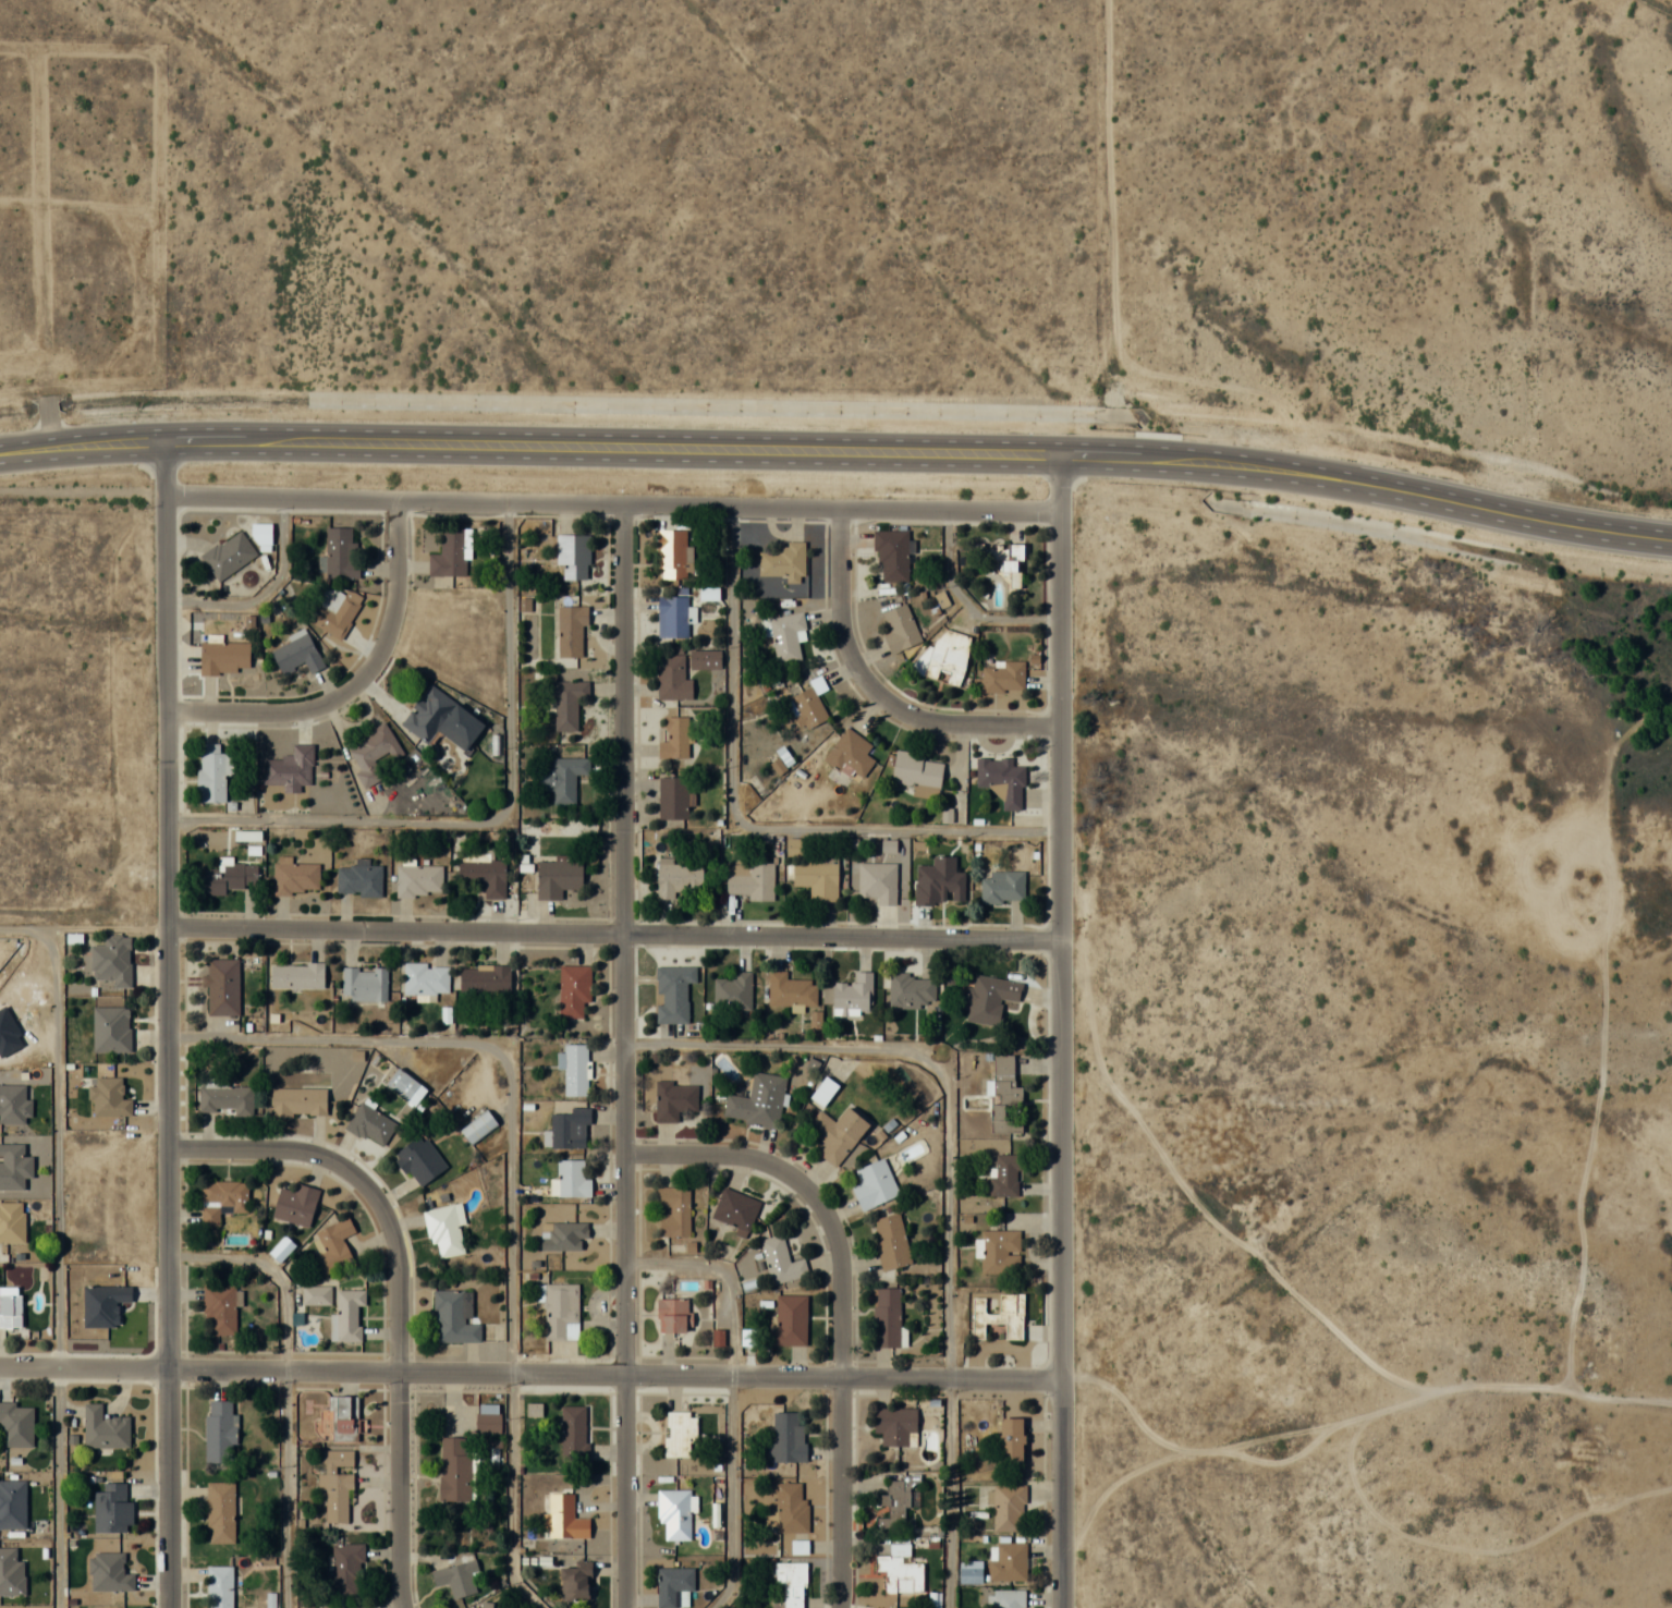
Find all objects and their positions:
road: (1107, 166)
road: (37, 412)
road: (39, 437)
road: (530, 441)
road: (1369, 477)
road: (614, 503)
building: (261, 536)
building: (451, 553)
building: (228, 555)
building: (340, 555)
building: (673, 555)
building: (891, 556)
building: (572, 557)
building: (782, 561)
building: (1003, 564)
road: (263, 593)
road: (968, 602)
building: (749, 609)
building: (333, 610)
building: (672, 617)
building: (900, 629)
building: (571, 630)
building: (784, 636)
building: (296, 654)
building: (945, 656)
building: (223, 657)
building: (704, 659)
building: (1003, 677)
building: (672, 678)
road: (355, 684)
road: (876, 691)
building: (566, 703)
building: (808, 705)
building: (440, 719)
building: (675, 739)
building: (373, 754)
building: (849, 754)
building: (290, 769)
building: (212, 772)
building: (916, 773)
building: (562, 778)
building: (1001, 780)
building: (673, 797)
road: (492, 819)
road: (742, 823)
building: (484, 875)
building: (229, 877)
building: (558, 877)
building: (817, 877)
building: (295, 878)
building: (679, 879)
building: (358, 880)
building: (418, 880)
building: (749, 880)
building: (1002, 886)
building: (872, 888)
road: (614, 933)
building: (111, 962)
building: (296, 975)
building: (426, 978)
building: (485, 978)
building: (364, 984)
building: (222, 987)
building: (573, 989)
building: (790, 990)
building: (912, 990)
building: (732, 991)
building: (672, 992)
building: (854, 992)
building: (990, 998)
road: (167, 1023)
road: (1063, 1028)
building: (110, 1030)
road: (503, 1043)
road: (625, 1056)
road: (933, 1068)
building: (574, 1069)
building: (405, 1087)
building: (823, 1091)
building: (1003, 1095)
building: (108, 1098)
building: (225, 1099)
building: (673, 1100)
building: (296, 1101)
building: (757, 1101)
building: (13, 1105)
building: (370, 1124)
building: (478, 1126)
building: (570, 1130)
building: (835, 1134)
road: (57, 1146)
building: (419, 1160)
quarry: (1657, 1160)
building: (14, 1167)
building: (1005, 1175)
building: (569, 1181)
building: (874, 1185)
building: (221, 1201)
building: (295, 1205)
building: (734, 1210)
building: (673, 1211)
building: (11, 1222)
building: (443, 1231)
building: (564, 1237)
building: (890, 1241)
building: (333, 1246)
building: (1000, 1253)
building: (781, 1262)
road: (721, 1277)
road: (396, 1288)
building: (316, 1295)
road: (841, 1301)
building: (10, 1307)
building: (219, 1311)
building: (560, 1312)
building: (347, 1314)
building: (672, 1315)
building: (999, 1316)
building: (887, 1317)
building: (453, 1318)
building: (790, 1321)
road: (530, 1373)
road: (285, 1382)
building: (343, 1417)
building: (488, 1417)
building: (15, 1424)
building: (895, 1424)
building: (103, 1427)
building: (219, 1432)
building: (573, 1433)
building: (680, 1434)
building: (786, 1436)
building: (1011, 1437)
building: (454, 1467)
building: (335, 1483)
road: (59, 1487)
road: (948, 1493)
road: (730, 1495)
road: (510, 1496)
building: (895, 1502)
building: (12, 1503)
building: (790, 1507)
building: (1008, 1507)
building: (112, 1508)
building: (220, 1511)
building: (673, 1513)
building: (564, 1516)
building: (1008, 1561)
building: (345, 1570)
building: (900, 1570)
building: (11, 1572)
building: (108, 1572)
building: (455, 1577)
building: (575, 1580)
building: (791, 1582)
building: (672, 1584)
building: (219, 1586)
building: (1008, 1598)
building: (472, 1607)
building: (756, 1607)

